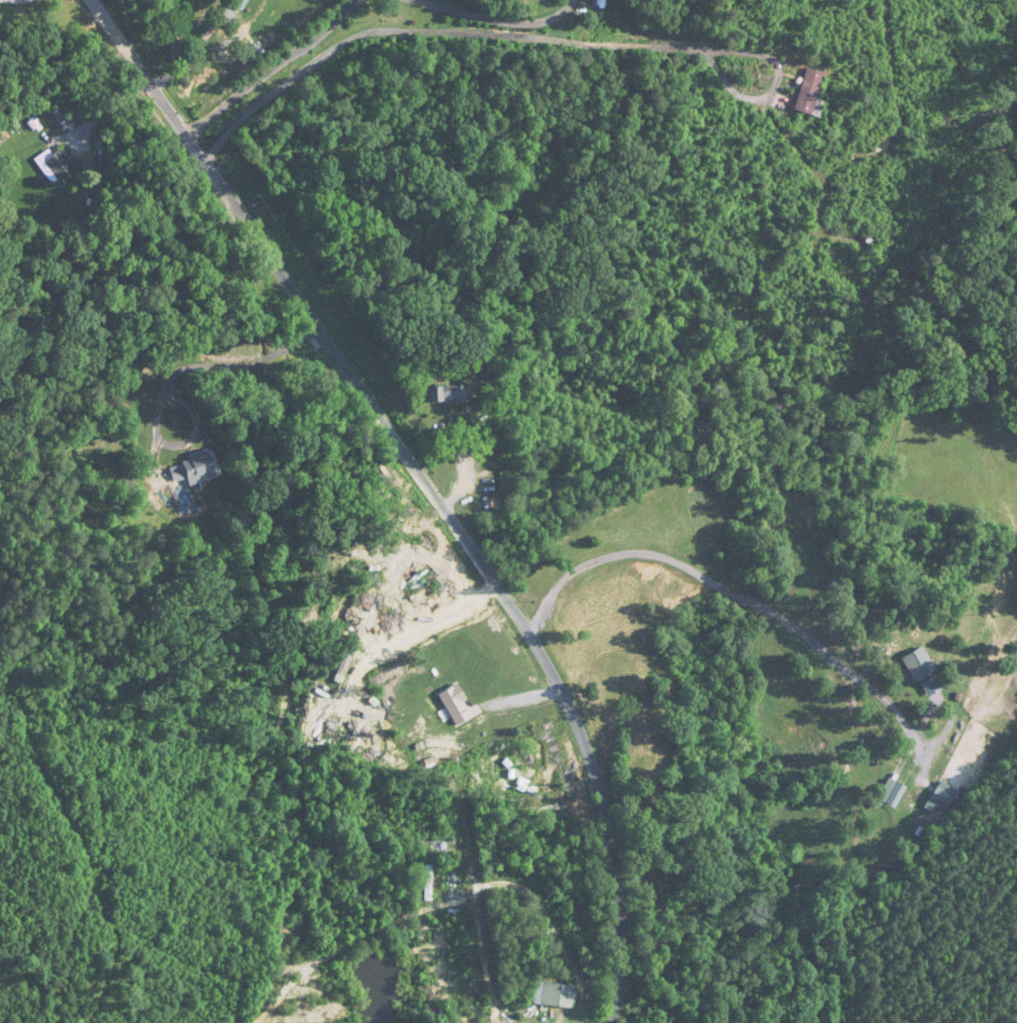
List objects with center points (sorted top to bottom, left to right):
road: (499, 19)
road: (535, 37)
road: (193, 53)
road: (274, 67)
building: (810, 92)
building: (63, 115)
building: (57, 165)
road: (120, 203)
road: (171, 378)
building: (446, 395)
building: (196, 468)
road: (432, 483)
road: (724, 587)
building: (345, 663)
building: (919, 665)
building: (457, 705)
building: (896, 794)
building: (942, 796)
building: (558, 994)
building: (433, 1014)

